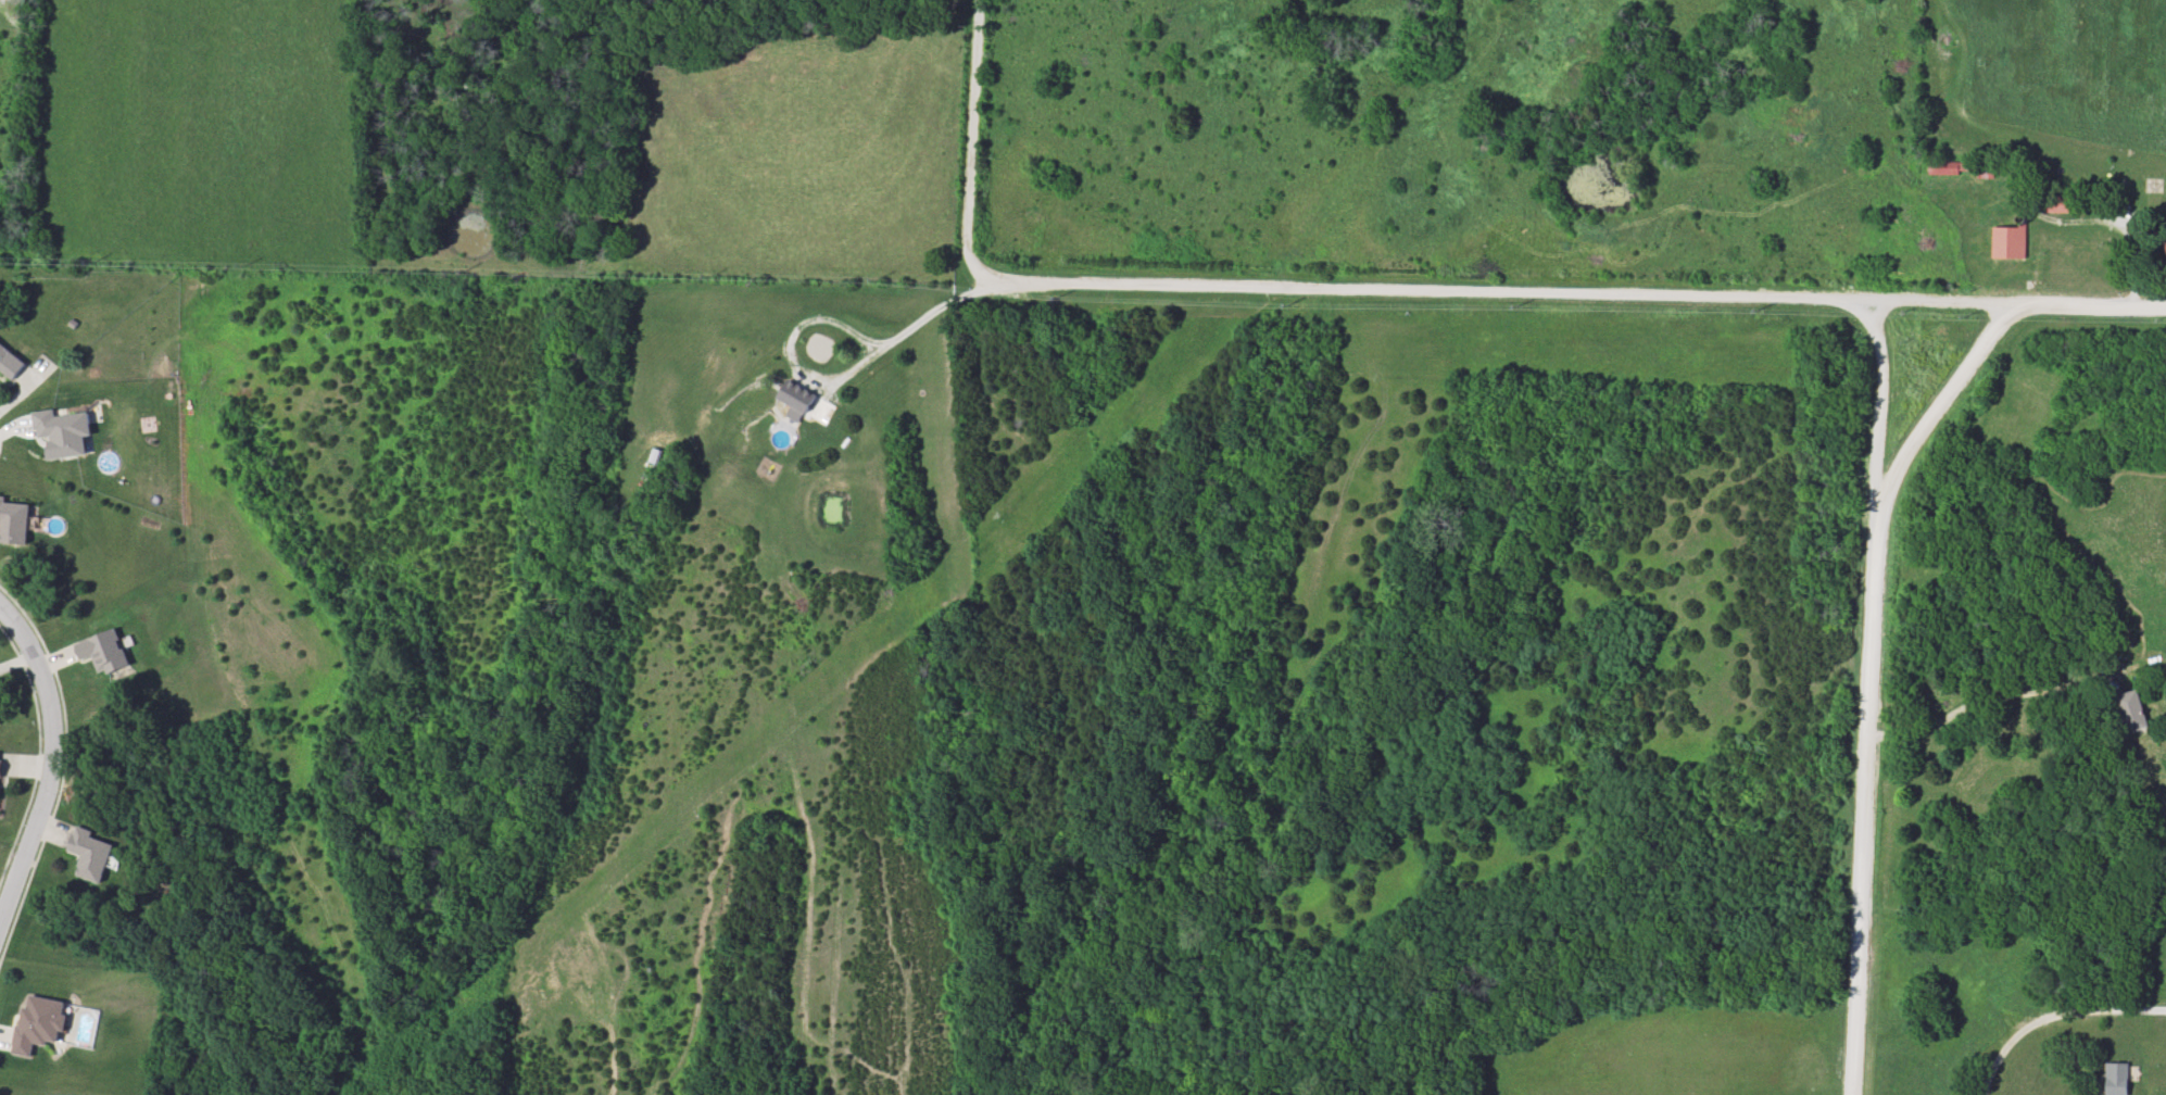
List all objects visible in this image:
building: (465, 81)
road: (972, 137)
building: (1959, 171)
building: (2055, 206)
building: (2007, 244)
building: (2164, 259)
road: (1570, 300)
building: (9, 368)
road: (833, 379)
building: (798, 399)
road: (1940, 415)
building: (64, 431)
building: (14, 518)
building: (104, 653)
road: (1869, 691)
road: (1990, 698)
building: (2129, 712)
road: (54, 770)
building: (2, 780)
building: (88, 855)
road: (2053, 1015)
building: (42, 1028)
building: (2114, 1080)

